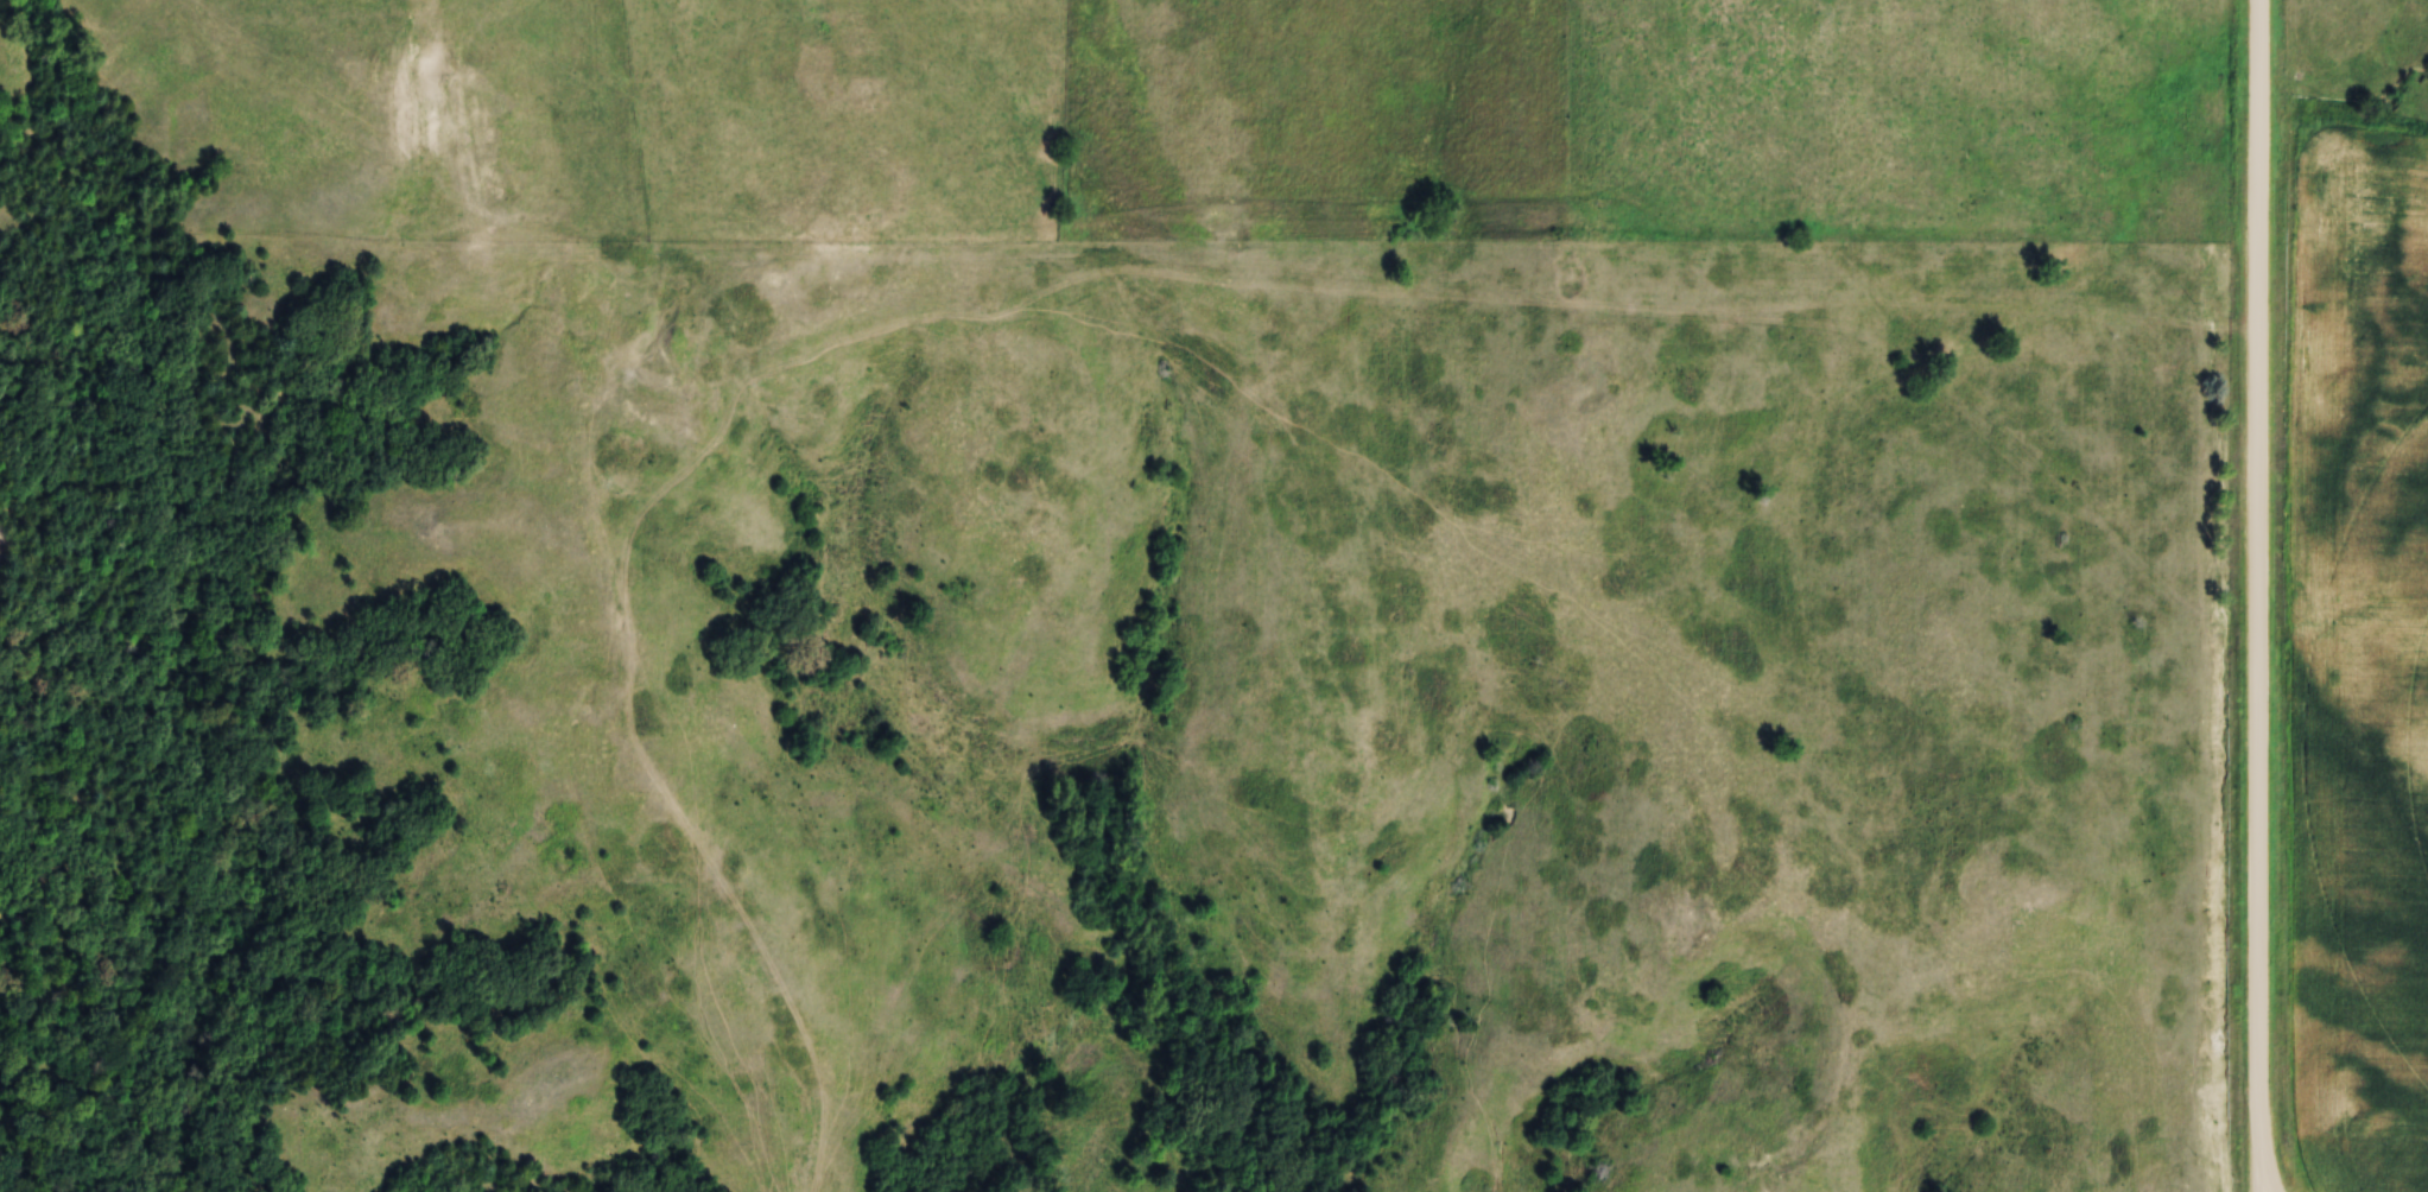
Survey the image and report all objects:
road: (2258, 571)
road: (2258, 1167)
road: (2272, 1167)

